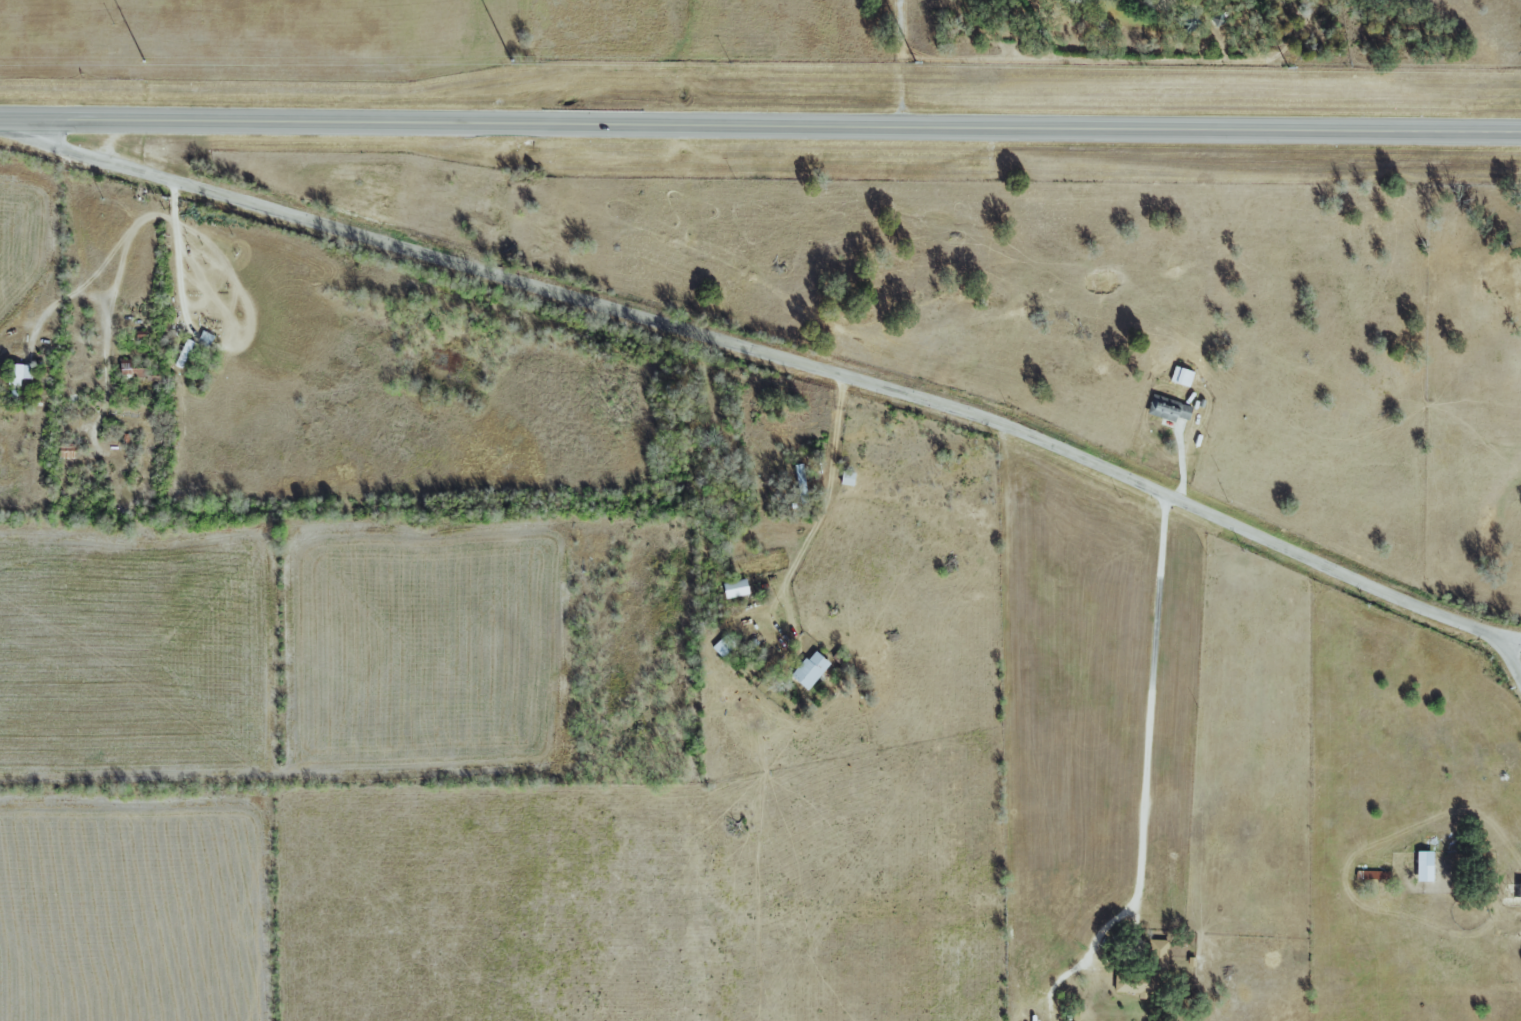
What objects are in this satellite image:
power tower: (144, 61)
power tower: (517, 63)
power tower: (917, 63)
road: (904, 64)
power tower: (1291, 68)
road: (760, 126)
road: (176, 254)
building: (204, 338)
building: (183, 352)
road: (787, 359)
building: (25, 371)
building: (1182, 375)
building: (1168, 409)
road: (1178, 459)
building: (798, 472)
road: (809, 531)
building: (735, 588)
road: (1511, 638)
building: (723, 645)
building: (811, 668)
road: (1145, 776)
building: (1417, 866)

